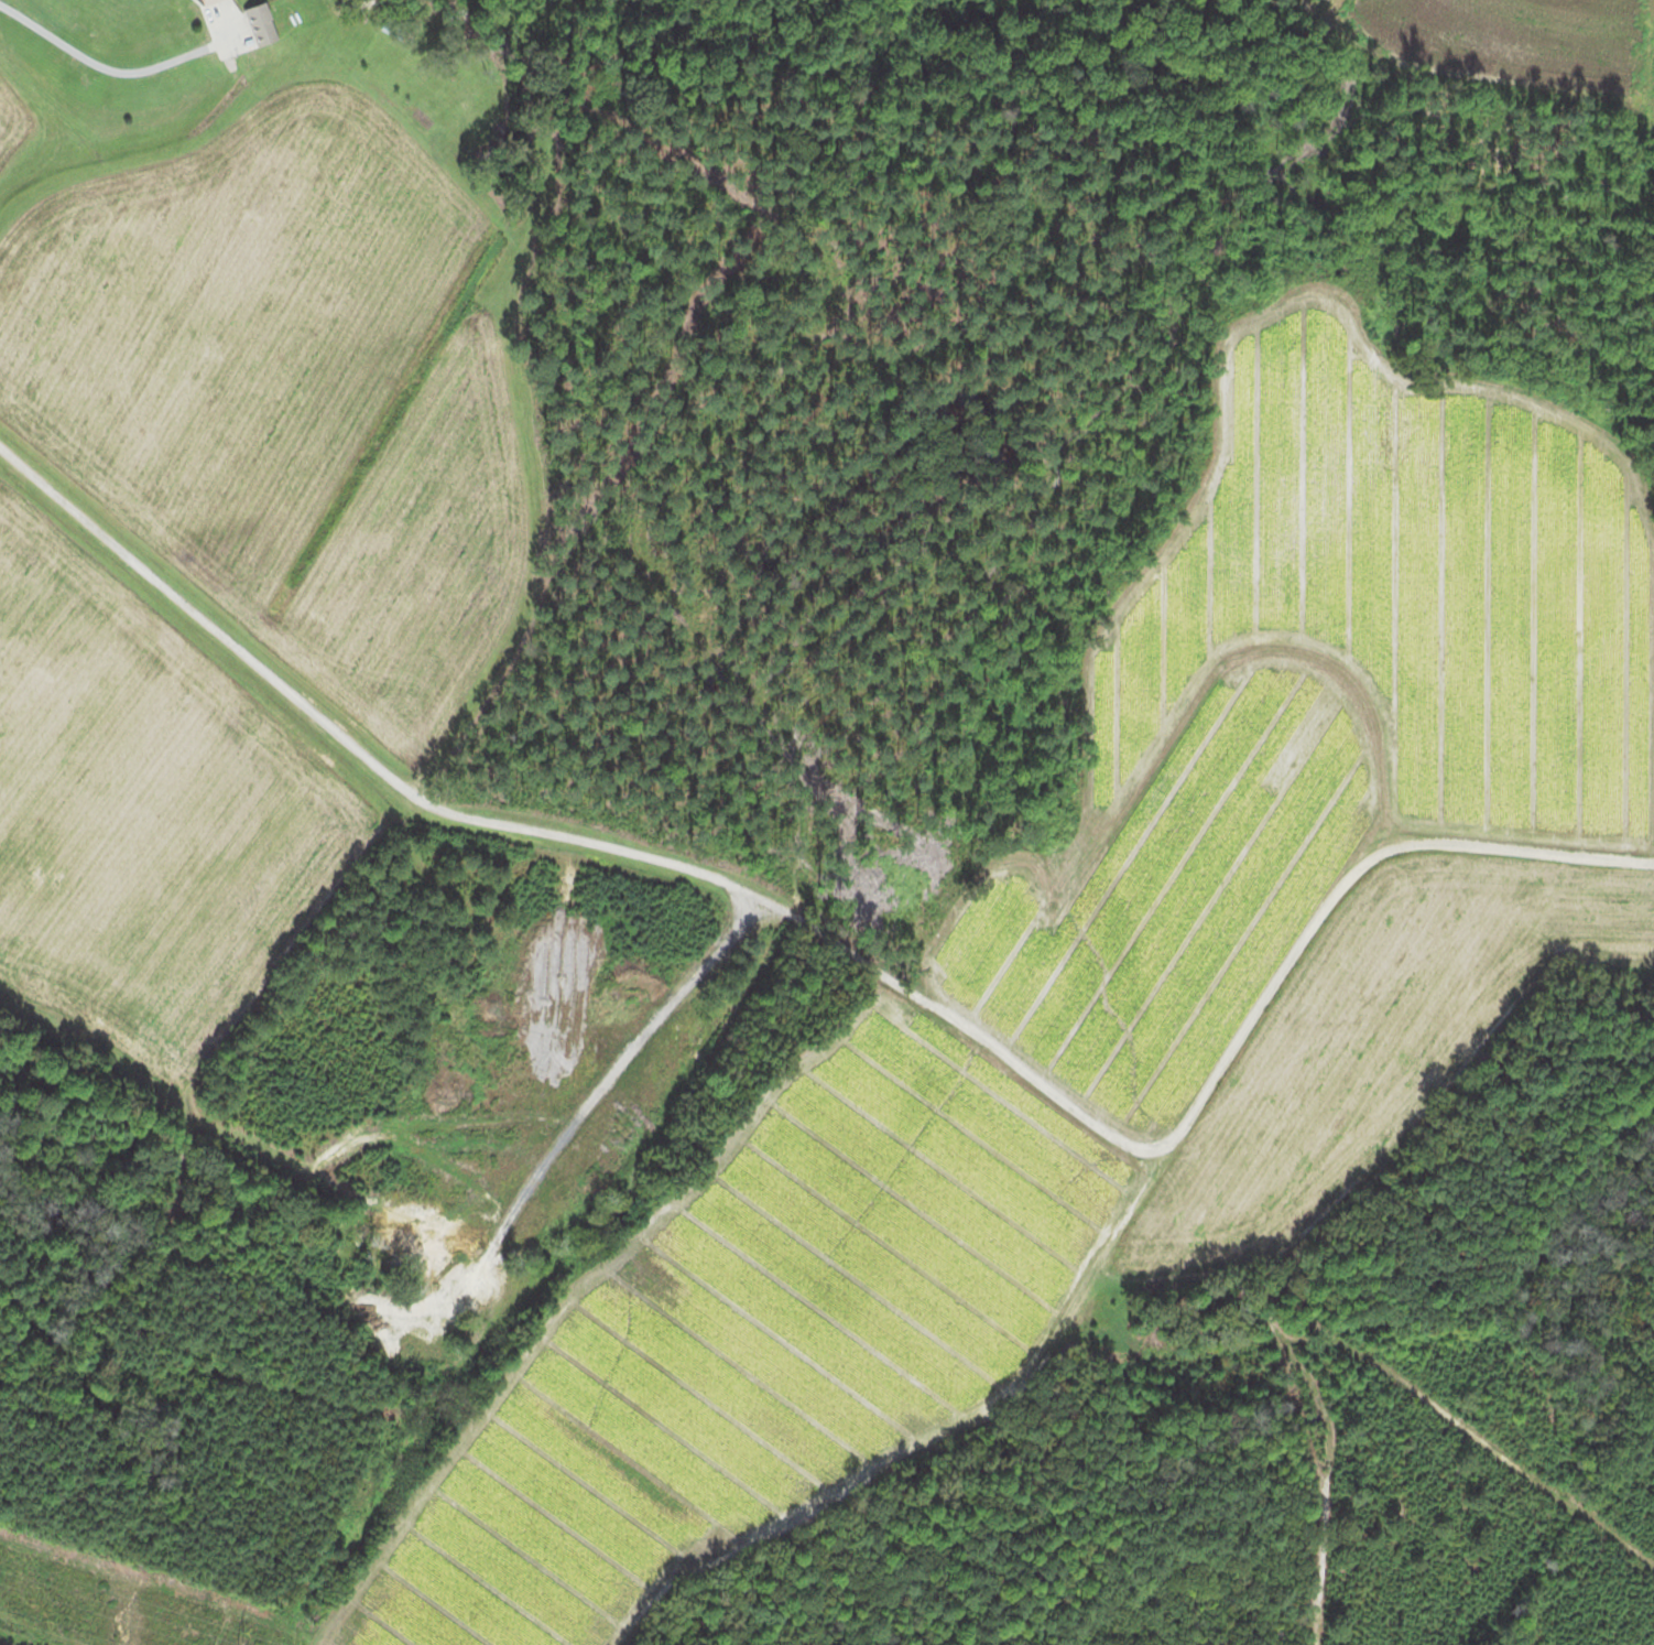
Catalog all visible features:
building: (207, 0)
road: (98, 64)
road: (852, 954)
power tower: (217, 1644)

